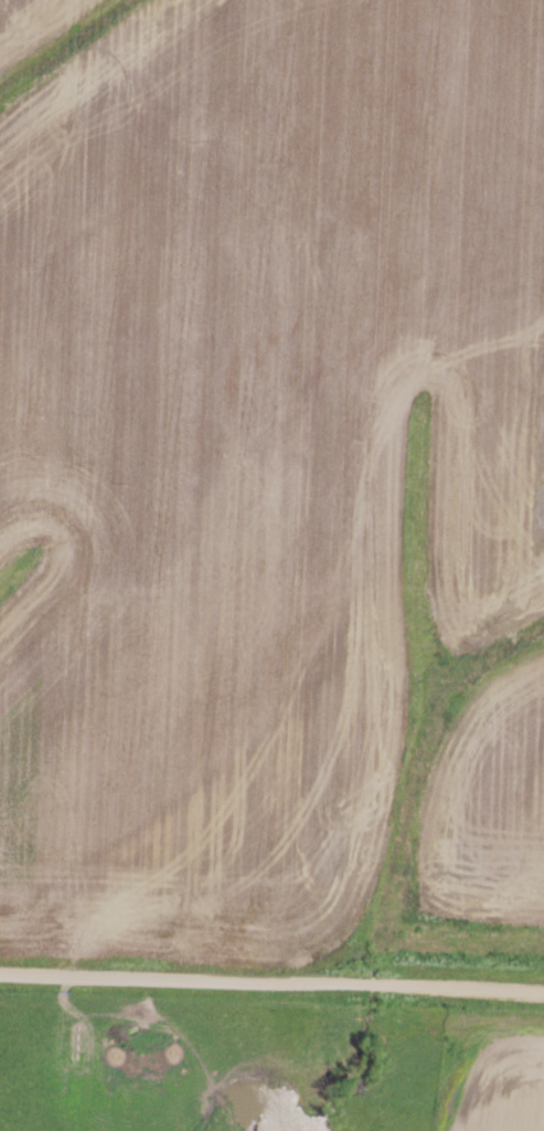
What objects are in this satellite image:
road: (271, 985)

